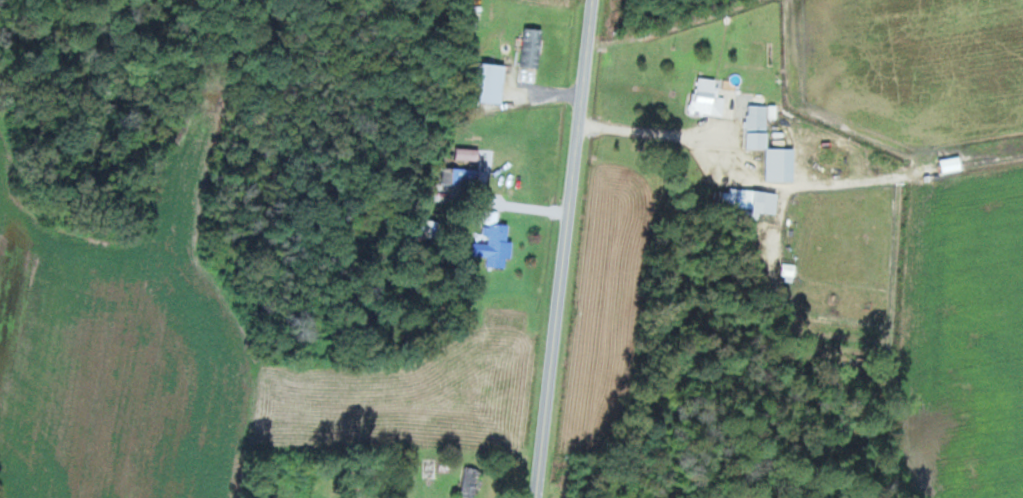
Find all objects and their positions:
building: (533, 48)
building: (493, 83)
building: (708, 97)
building: (758, 126)
building: (461, 176)
building: (758, 202)
building: (495, 245)
road: (571, 249)
building: (472, 482)

